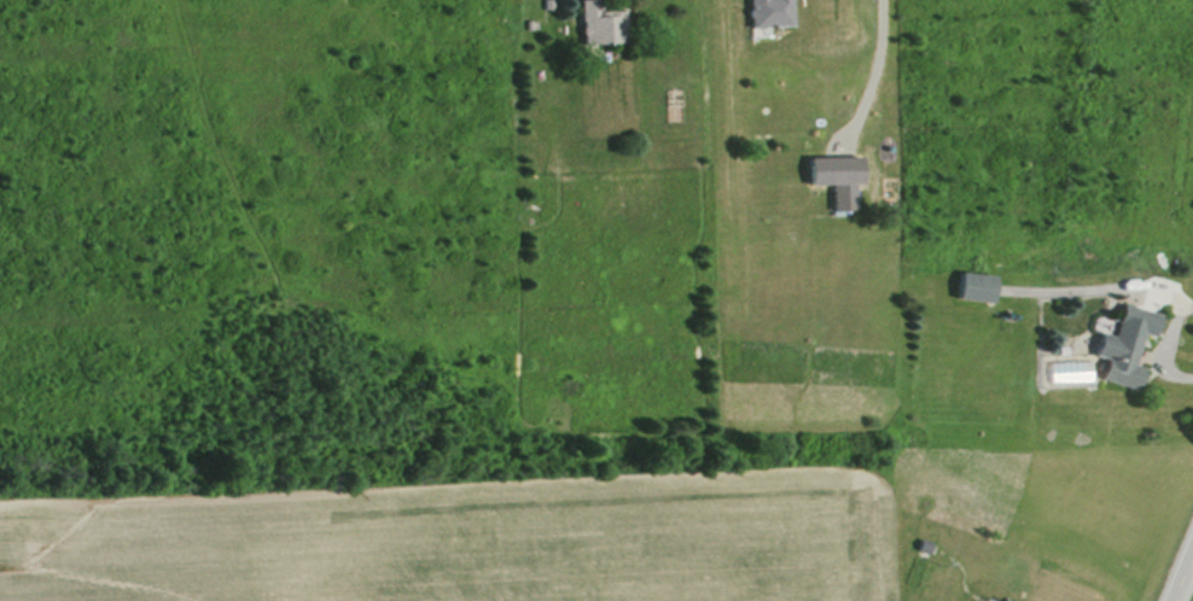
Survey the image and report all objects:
building: (763, 13)
building: (598, 25)
road: (866, 77)
building: (838, 198)
building: (968, 286)
building: (1119, 344)
road: (1177, 564)

